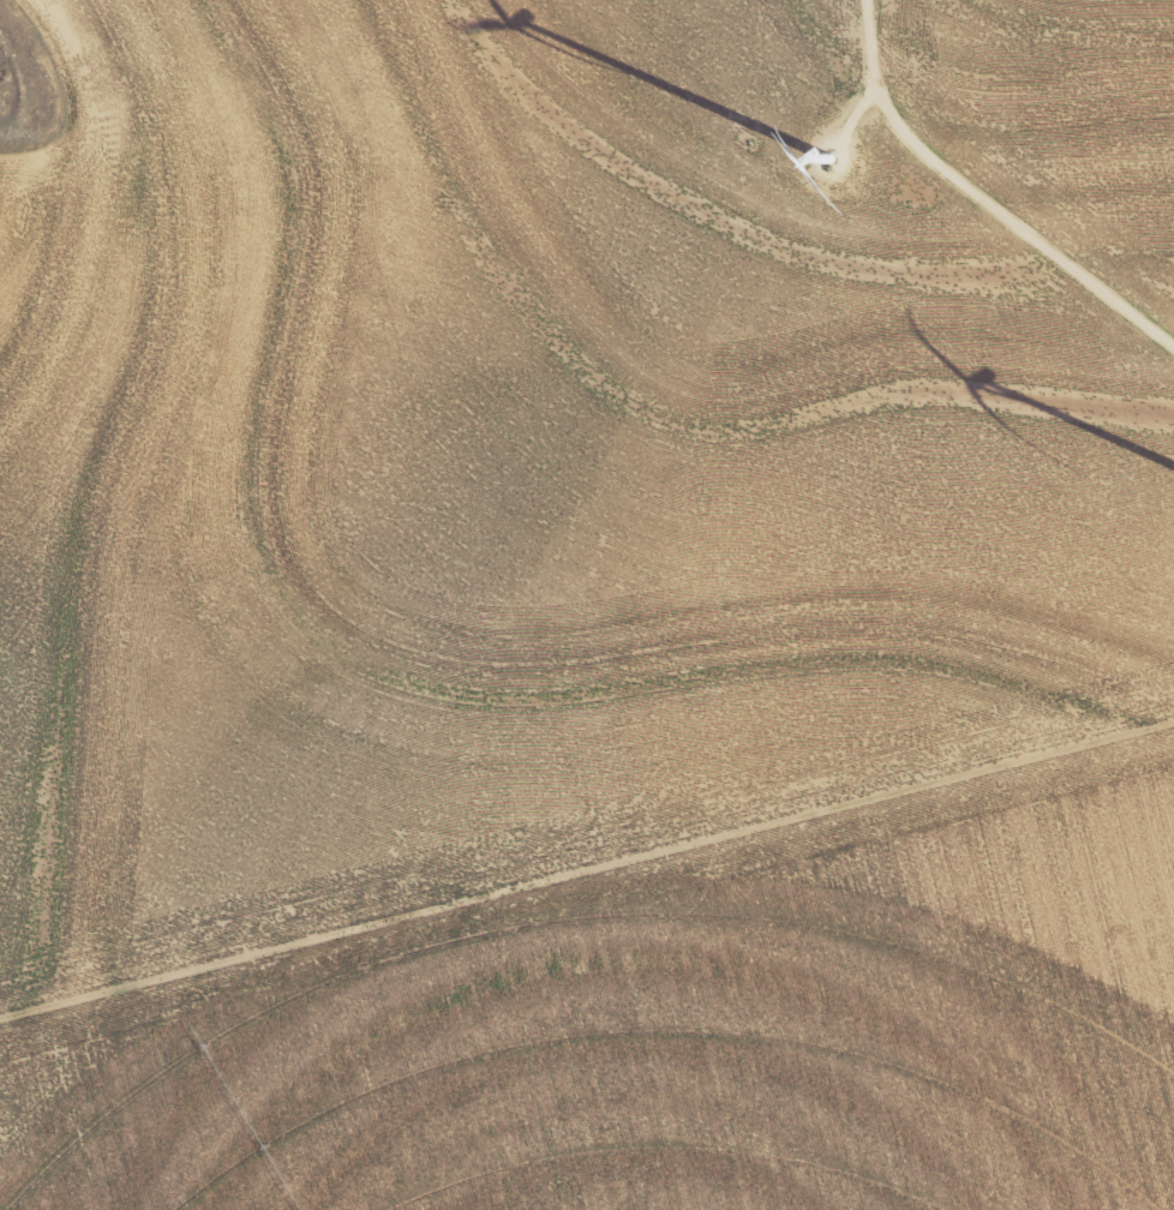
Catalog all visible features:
wind turbine: (831, 162)
road: (981, 200)

